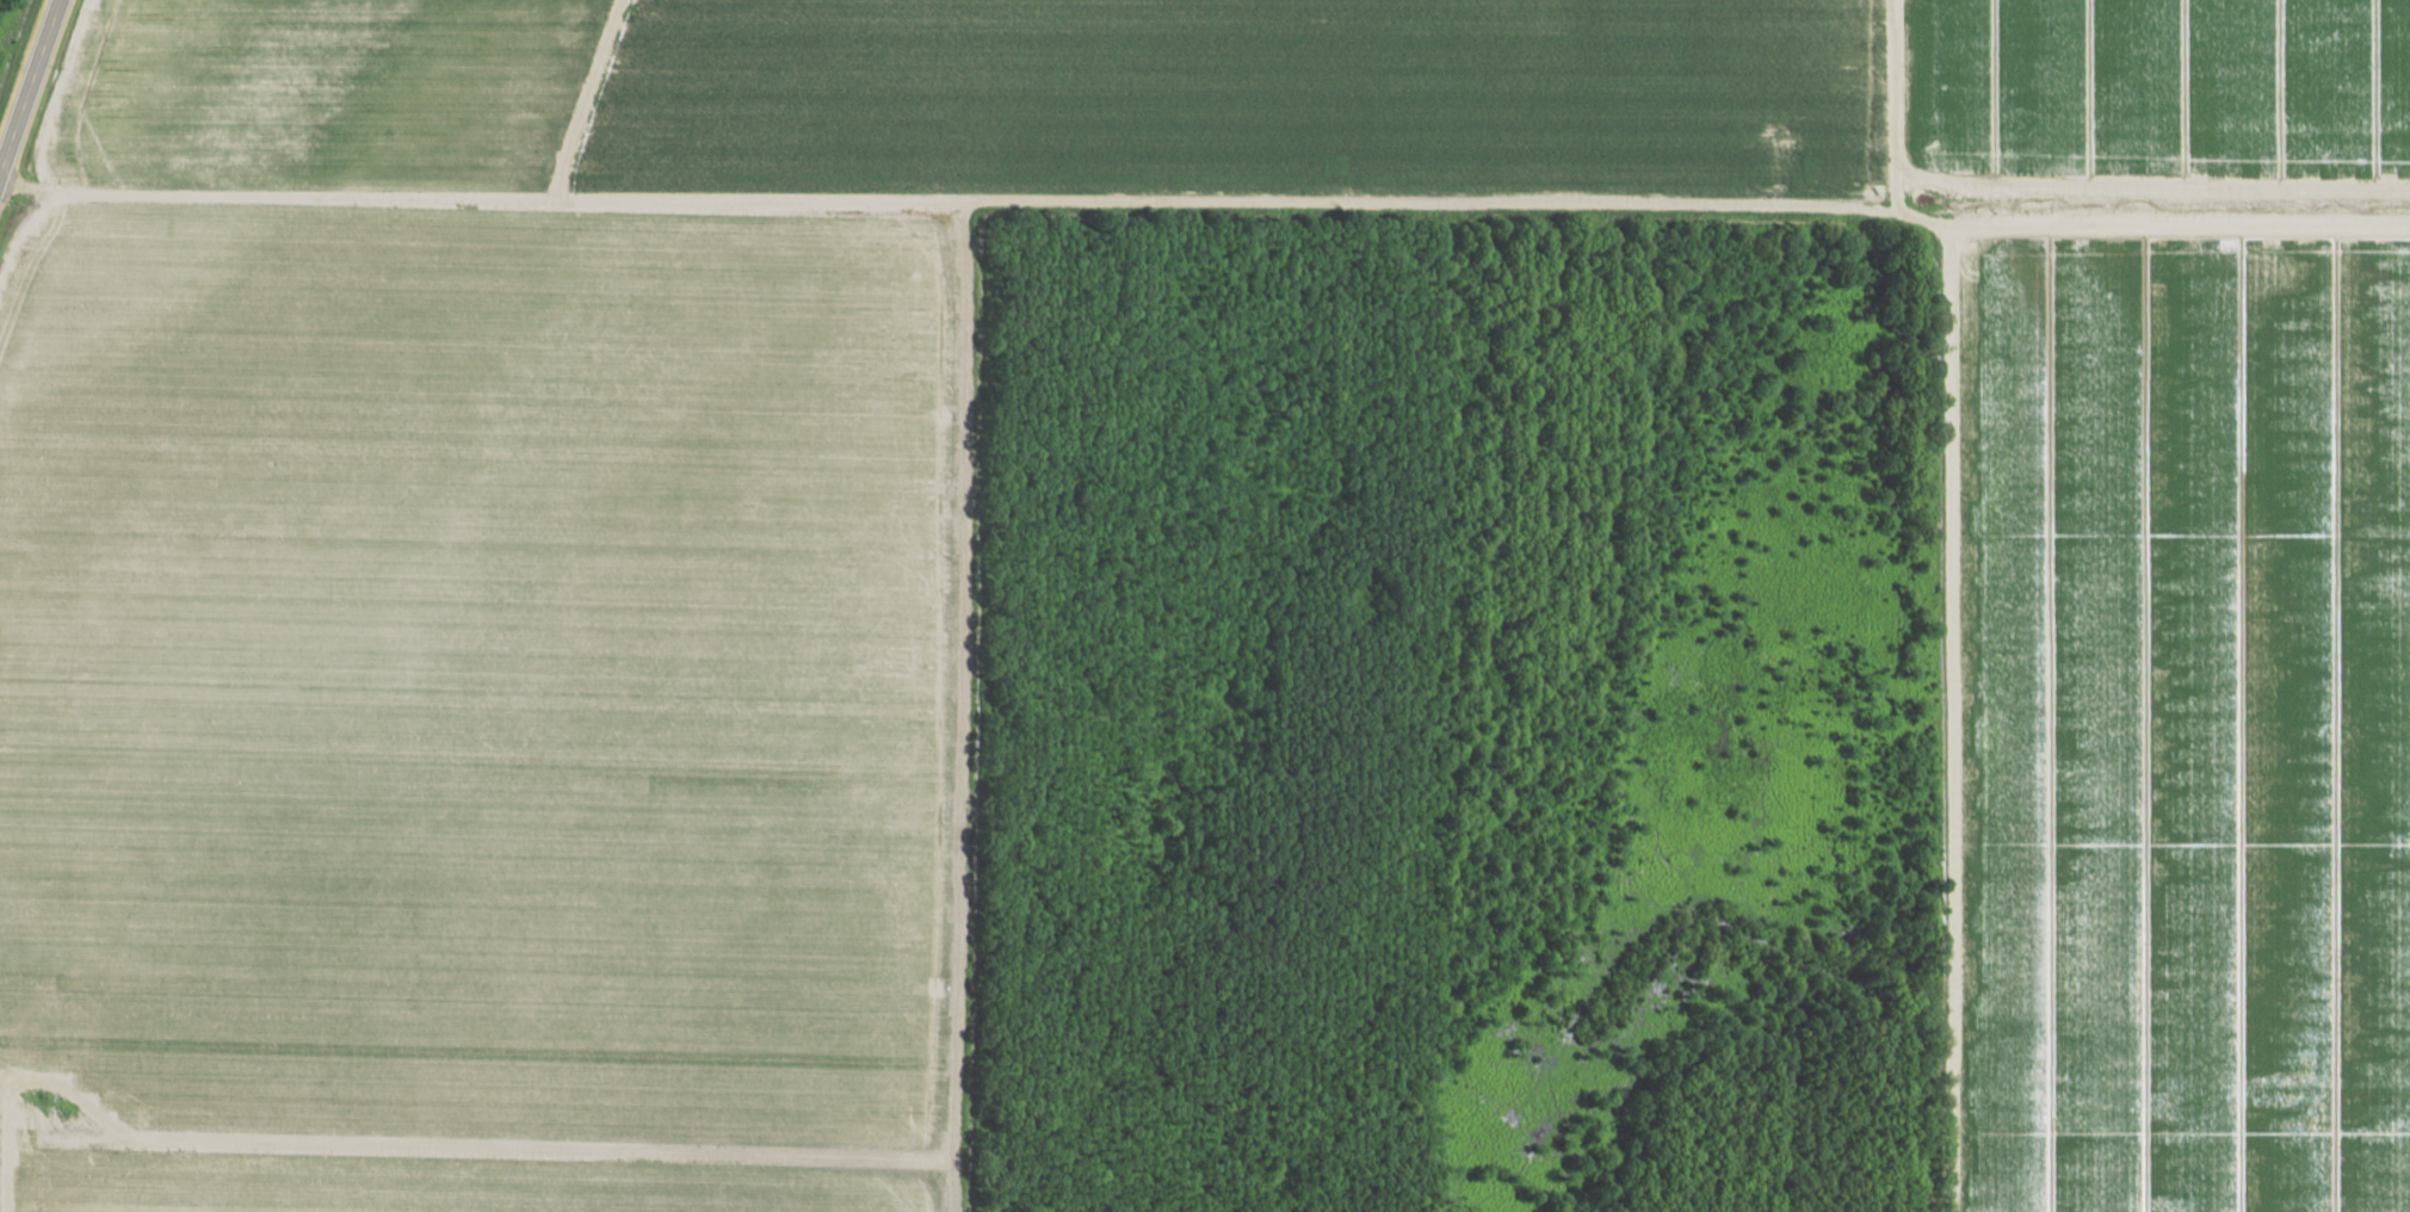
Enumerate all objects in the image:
road: (27, 85)
road: (1204, 216)
road: (1952, 713)
road: (30, 1138)

